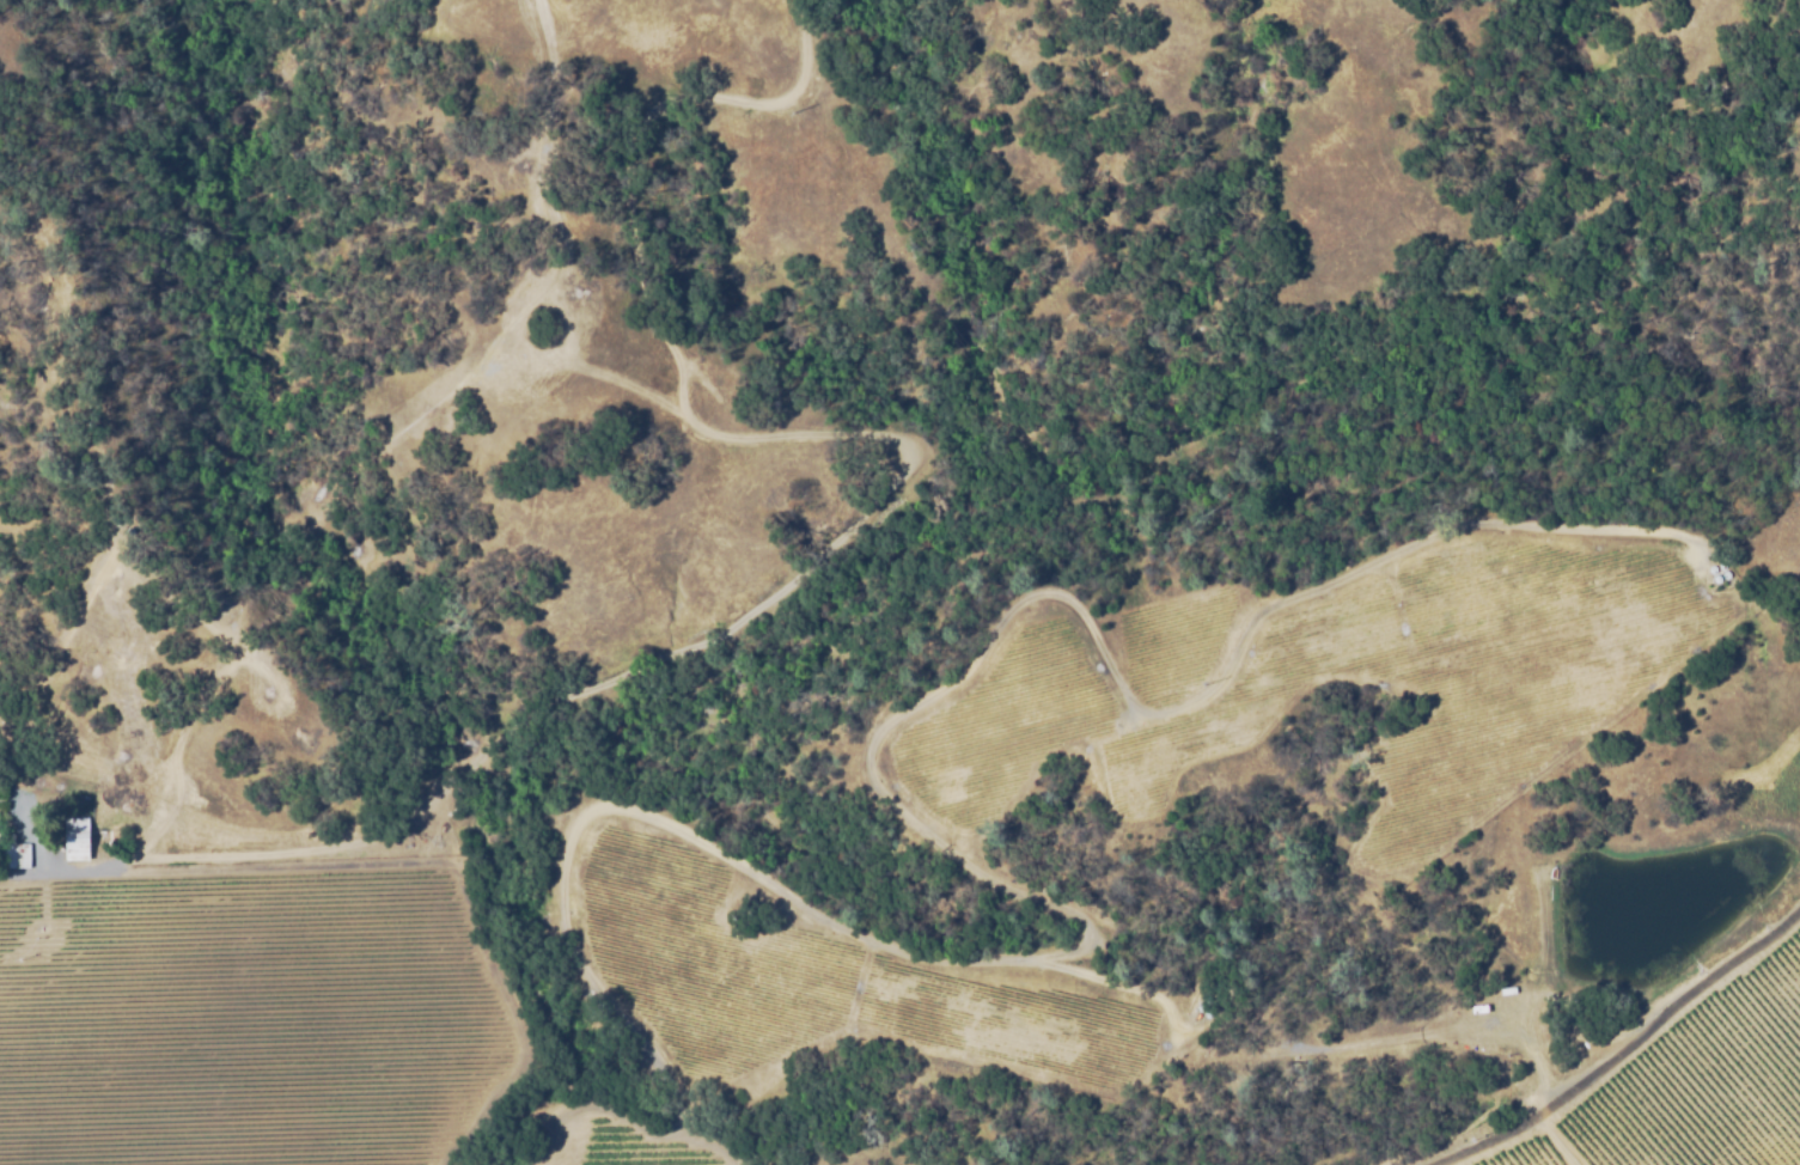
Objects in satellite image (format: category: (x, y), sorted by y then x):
building: (75, 841)
road: (193, 855)
building: (14, 858)

